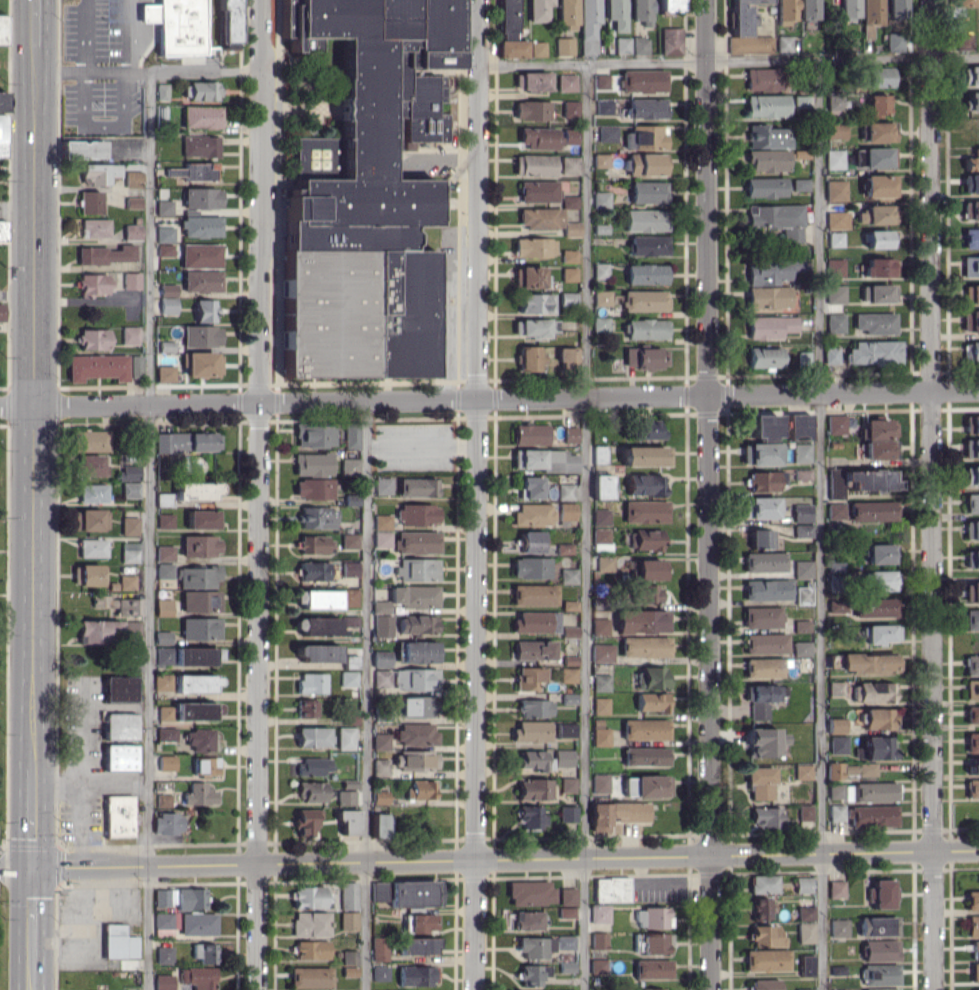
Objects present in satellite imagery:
road: (158, 2)
building: (963, 2)
building: (978, 2)
building: (670, 5)
building: (849, 9)
building: (897, 9)
building: (538, 10)
building: (809, 10)
building: (641, 11)
building: (785, 11)
building: (567, 14)
building: (616, 14)
building: (743, 15)
road: (159, 16)
building: (870, 16)
building: (508, 18)
road: (36, 23)
building: (176, 25)
building: (228, 25)
road: (126, 26)
building: (588, 26)
building: (2, 29)
road: (83, 34)
building: (671, 41)
building: (893, 41)
building: (964, 41)
building: (783, 43)
building: (750, 44)
building: (621, 45)
building: (639, 45)
building: (564, 46)
building: (512, 48)
building: (537, 48)
road: (36, 57)
road: (729, 61)
road: (60, 68)
road: (206, 71)
building: (970, 75)
building: (877, 76)
building: (762, 79)
building: (642, 80)
building: (531, 81)
building: (601, 81)
building: (566, 82)
building: (200, 90)
building: (162, 91)
building: (2, 101)
building: (800, 101)
building: (834, 101)
building: (971, 101)
building: (877, 104)
building: (766, 105)
road: (123, 107)
building: (603, 107)
building: (645, 108)
building: (570, 109)
building: (531, 110)
building: (201, 117)
building: (836, 130)
building: (879, 131)
building: (607, 133)
building: (2, 135)
building: (570, 136)
building: (766, 136)
building: (537, 137)
building: (645, 137)
building: (200, 146)
building: (82, 149)
building: (874, 157)
building: (834, 159)
building: (599, 160)
building: (767, 160)
building: (972, 161)
building: (646, 164)
building: (534, 165)
building: (569, 165)
building: (193, 171)
building: (97, 173)
building: (132, 179)
building: (970, 183)
building: (800, 184)
building: (878, 186)
building: (764, 187)
building: (835, 190)
building: (538, 191)
building: (648, 192)
building: (365, 194)
building: (201, 198)
building: (601, 198)
building: (569, 201)
building: (89, 202)
building: (133, 202)
building: (164, 207)
road: (17, 210)
building: (970, 210)
building: (880, 214)
building: (540, 218)
building: (778, 219)
building: (837, 219)
building: (645, 220)
building: (201, 226)
building: (94, 227)
building: (571, 229)
building: (2, 230)
building: (132, 232)
building: (165, 234)
building: (970, 238)
building: (834, 239)
building: (877, 239)
building: (648, 245)
building: (534, 247)
building: (165, 249)
building: (106, 254)
building: (200, 255)
building: (569, 256)
building: (970, 266)
building: (835, 267)
building: (879, 267)
building: (600, 271)
building: (770, 271)
building: (646, 273)
building: (569, 274)
building: (528, 277)
building: (131, 280)
building: (202, 280)
building: (92, 284)
building: (168, 290)
building: (877, 293)
building: (835, 294)
building: (971, 294)
building: (767, 297)
building: (602, 298)
building: (567, 299)
building: (644, 300)
building: (535, 303)
building: (167, 305)
building: (204, 310)
building: (0, 312)
building: (970, 321)
building: (835, 322)
building: (875, 322)
building: (600, 323)
building: (770, 326)
building: (532, 327)
building: (645, 329)
building: (129, 335)
building: (201, 335)
building: (93, 339)
building: (971, 350)
building: (874, 352)
building: (831, 355)
building: (567, 357)
building: (764, 357)
building: (529, 358)
building: (646, 358)
building: (201, 364)
building: (135, 366)
building: (97, 367)
building: (165, 373)
road: (489, 394)
road: (33, 419)
building: (836, 423)
building: (971, 424)
building: (762, 426)
building: (798, 426)
building: (647, 429)
building: (351, 434)
building: (530, 434)
building: (570, 434)
building: (315, 435)
building: (91, 440)
building: (185, 441)
building: (971, 448)
building: (801, 452)
building: (598, 454)
building: (759, 454)
building: (643, 455)
building: (544, 460)
building: (312, 464)
building: (88, 465)
building: (349, 466)
building: (129, 472)
building: (971, 475)
building: (765, 480)
building: (858, 481)
building: (644, 484)
building: (382, 485)
building: (601, 486)
building: (417, 487)
building: (529, 487)
building: (313, 488)
building: (130, 490)
building: (196, 490)
building: (565, 491)
building: (92, 493)
road: (259, 494)
road: (476, 494)
road: (708, 495)
road: (930, 495)
building: (163, 499)
building: (971, 503)
building: (760, 507)
building: (835, 510)
building: (567, 511)
building: (645, 511)
building: (872, 511)
building: (801, 513)
building: (418, 514)
building: (533, 515)
building: (318, 517)
building: (600, 517)
building: (92, 519)
building: (201, 519)
building: (164, 521)
building: (382, 521)
road: (820, 524)
building: (129, 525)
road: (585, 526)
building: (803, 530)
building: (971, 530)
road: (149, 531)
building: (600, 538)
building: (761, 538)
building: (382, 539)
building: (644, 539)
building: (349, 540)
building: (530, 541)
building: (416, 542)
building: (315, 544)
building: (200, 545)
building: (92, 547)
building: (128, 552)
building: (164, 552)
building: (878, 553)
building: (972, 559)
building: (764, 561)
building: (604, 563)
building: (531, 567)
building: (350, 569)
building: (417, 569)
building: (648, 569)
building: (802, 569)
building: (164, 570)
building: (313, 571)
building: (86, 574)
building: (568, 575)
building: (198, 577)
building: (878, 580)
building: (127, 581)
building: (767, 589)
building: (971, 592)
building: (648, 593)
building: (804, 594)
building: (534, 595)
building: (414, 596)
building: (351, 597)
building: (317, 598)
building: (200, 601)
building: (118, 605)
building: (381, 606)
building: (837, 606)
building: (163, 607)
building: (875, 607)
building: (762, 617)
building: (971, 619)
building: (642, 621)
building: (535, 622)
building: (417, 623)
building: (382, 625)
building: (600, 625)
building: (802, 625)
building: (321, 626)
building: (200, 628)
building: (132, 630)
building: (99, 631)
building: (569, 631)
building: (879, 634)
building: (163, 637)
building: (765, 643)
building: (645, 646)
building: (801, 648)
building: (533, 649)
building: (418, 651)
building: (318, 652)
building: (602, 652)
building: (187, 655)
building: (381, 658)
building: (351, 661)
building: (869, 663)
building: (971, 664)
building: (763, 667)
building: (568, 674)
building: (651, 677)
building: (348, 678)
building: (382, 678)
building: (528, 678)
building: (415, 679)
building: (163, 682)
building: (311, 682)
building: (601, 682)
building: (194, 683)
building: (118, 688)
building: (835, 688)
building: (972, 688)
building: (873, 692)
road: (367, 693)
building: (761, 699)
building: (653, 701)
building: (417, 705)
building: (600, 705)
building: (305, 708)
building: (535, 708)
building: (196, 710)
building: (164, 713)
building: (972, 714)
building: (878, 718)
building: (836, 725)
building: (119, 726)
building: (565, 729)
building: (645, 729)
building: (531, 731)
building: (166, 734)
building: (416, 734)
building: (311, 736)
building: (346, 738)
building: (200, 740)
building: (380, 741)
building: (764, 741)
building: (972, 742)
building: (838, 744)
building: (876, 748)
building: (645, 756)
building: (119, 757)
building: (563, 758)
building: (414, 760)
building: (531, 760)
building: (166, 762)
building: (974, 765)
building: (205, 766)
building: (313, 766)
building: (380, 767)
building: (840, 769)
building: (867, 769)
building: (803, 771)
road: (81, 777)
road: (56, 781)
building: (760, 782)
road: (114, 783)
building: (349, 783)
building: (600, 783)
building: (567, 784)
building: (646, 786)
building: (972, 788)
building: (420, 789)
building: (533, 789)
building: (310, 791)
building: (839, 791)
building: (875, 791)
building: (199, 794)
park: (4, 795)
building: (345, 797)
building: (380, 797)
building: (163, 800)
building: (805, 812)
building: (836, 812)
building: (567, 813)
building: (616, 813)
building: (872, 815)
building: (118, 816)
building: (531, 817)
building: (765, 817)
road: (30, 818)
building: (306, 820)
building: (348, 821)
building: (167, 823)
building: (380, 825)
road: (15, 842)
road: (504, 858)
road: (15, 866)
traffic signals: (30, 867)
building: (763, 883)
building: (803, 884)
building: (611, 889)
building: (836, 889)
building: (379, 891)
building: (530, 892)
building: (414, 893)
building: (881, 894)
building: (348, 895)
building: (568, 896)
building: (308, 897)
building: (181, 898)
building: (972, 900)
building: (763, 908)
building: (567, 912)
building: (600, 913)
building: (805, 913)
building: (652, 917)
road: (30, 919)
building: (528, 920)
building: (348, 921)
building: (420, 922)
building: (164, 923)
building: (198, 924)
building: (310, 924)
building: (878, 926)
building: (973, 926)
building: (839, 927)
building: (806, 932)
building: (766, 936)
building: (599, 940)
building: (118, 942)
building: (565, 942)
building: (656, 943)
building: (417, 945)
building: (535, 946)
building: (379, 948)
building: (311, 949)
building: (976, 949)
building: (880, 950)
building: (204, 952)
building: (164, 954)
building: (349, 957)
building: (767, 960)
building: (807, 965)
building: (598, 966)
building: (653, 969)
building: (349, 971)
building: (975, 972)
building: (380, 973)
building: (533, 974)
building: (880, 974)
building: (416, 975)
building: (198, 977)
building: (310, 977)
road: (30, 980)
building: (163, 982)
building: (765, 984)
building: (648, 989)
building: (803, 989)
building: (845, 989)
building: (881, 989)
building: (975, 989)

